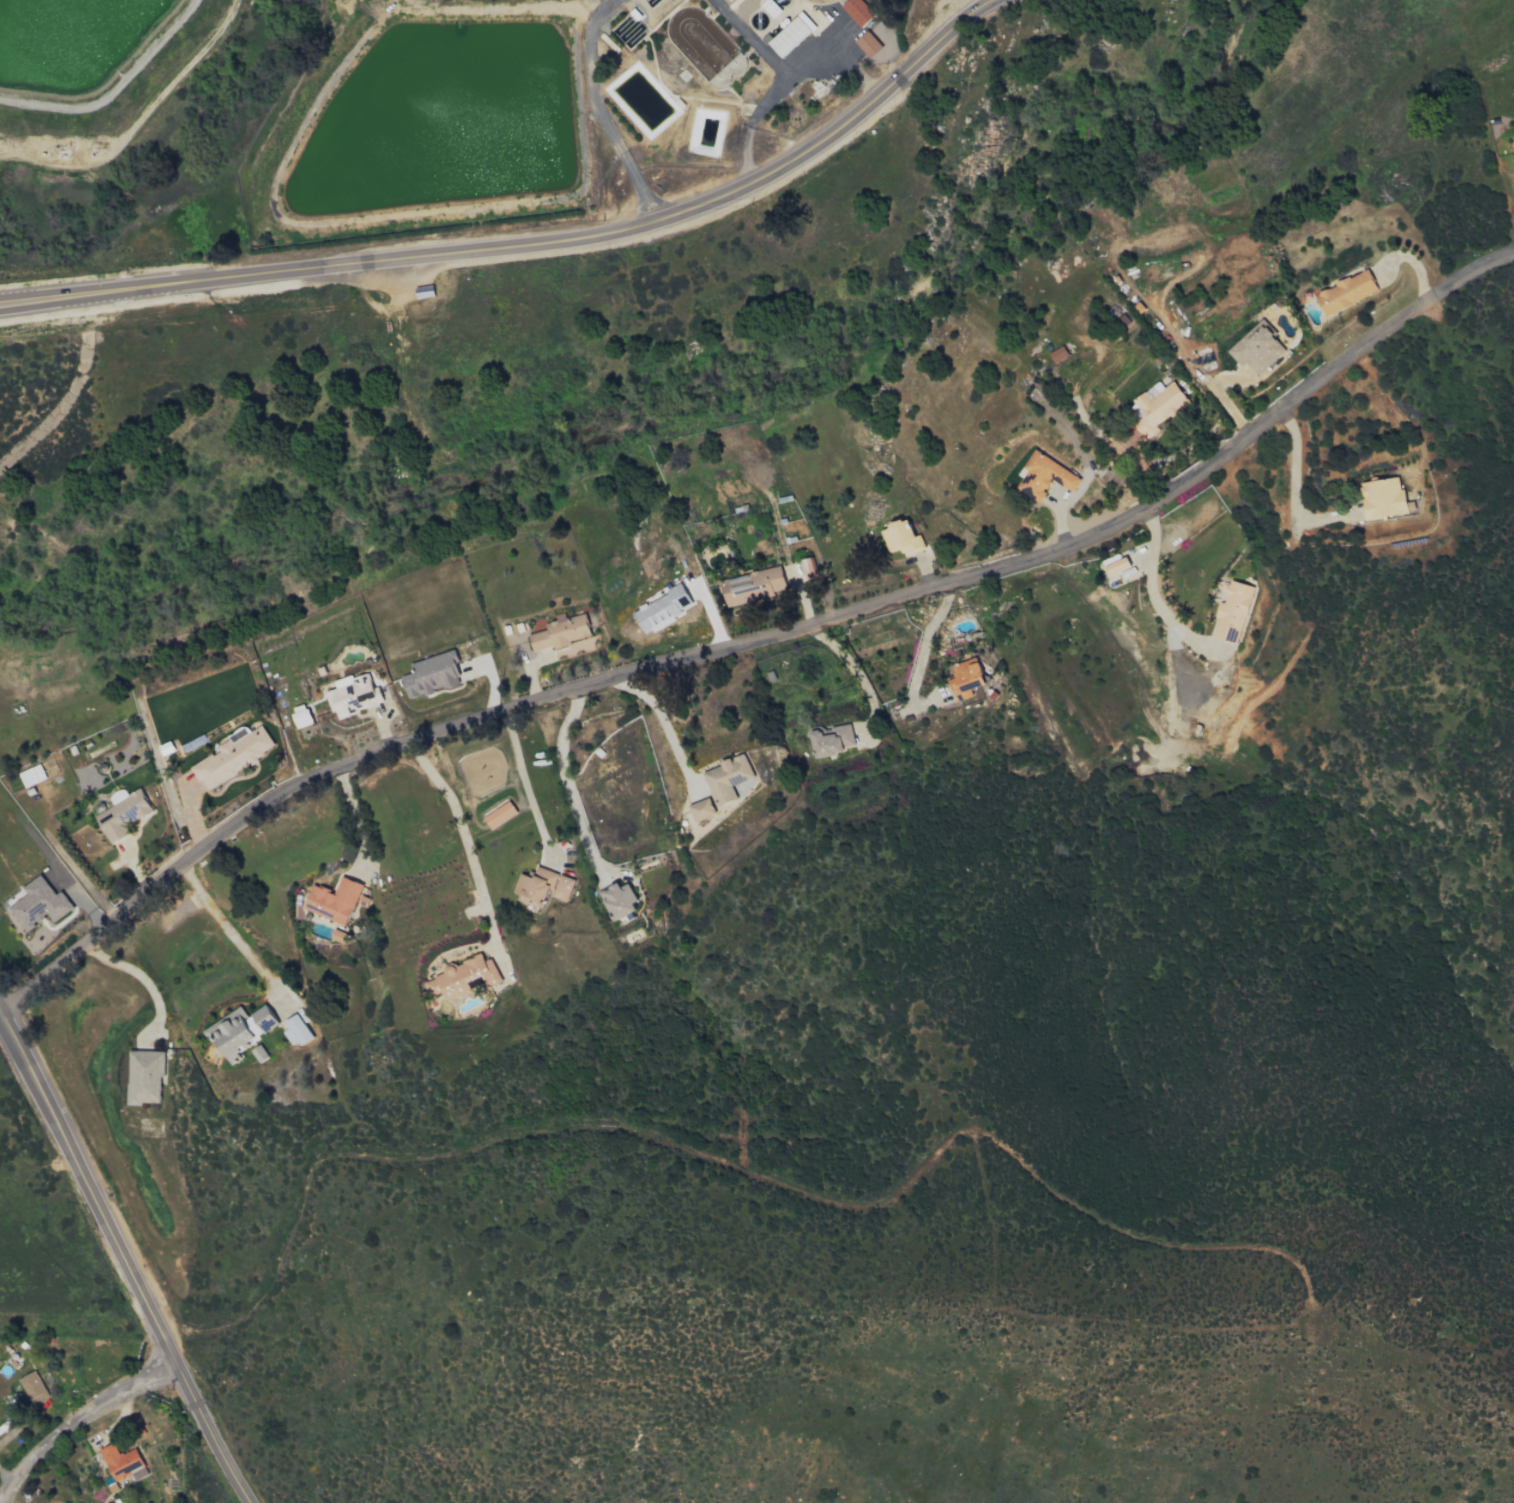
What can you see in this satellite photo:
building: (857, 11)
building: (791, 35)
road: (752, 40)
building: (867, 44)
road: (594, 75)
road: (787, 83)
road: (750, 153)
road: (639, 188)
road: (533, 245)
building: (423, 292)
building: (1345, 293)
building: (1256, 350)
building: (1057, 354)
road: (1222, 395)
building: (1158, 404)
building: (1043, 476)
road: (1296, 484)
building: (1382, 498)
building: (901, 538)
building: (1117, 567)
road: (1153, 584)
building: (752, 585)
building: (662, 609)
building: (1232, 612)
building: (561, 632)
road: (924, 641)
road: (761, 643)
building: (431, 675)
building: (966, 678)
building: (353, 695)
building: (301, 716)
road: (661, 719)
building: (831, 740)
building: (233, 756)
building: (31, 776)
road: (565, 776)
building: (726, 778)
road: (522, 780)
building: (701, 809)
road: (355, 814)
building: (500, 815)
road: (461, 835)
building: (541, 886)
building: (333, 901)
building: (618, 901)
building: (39, 904)
road: (225, 928)
road: (135, 974)
building: (463, 977)
building: (240, 1030)
building: (295, 1031)
building: (145, 1076)
road: (725, 1150)
road: (124, 1266)
building: (32, 1387)
road: (78, 1422)
building: (120, 1461)
road: (3, 1502)

